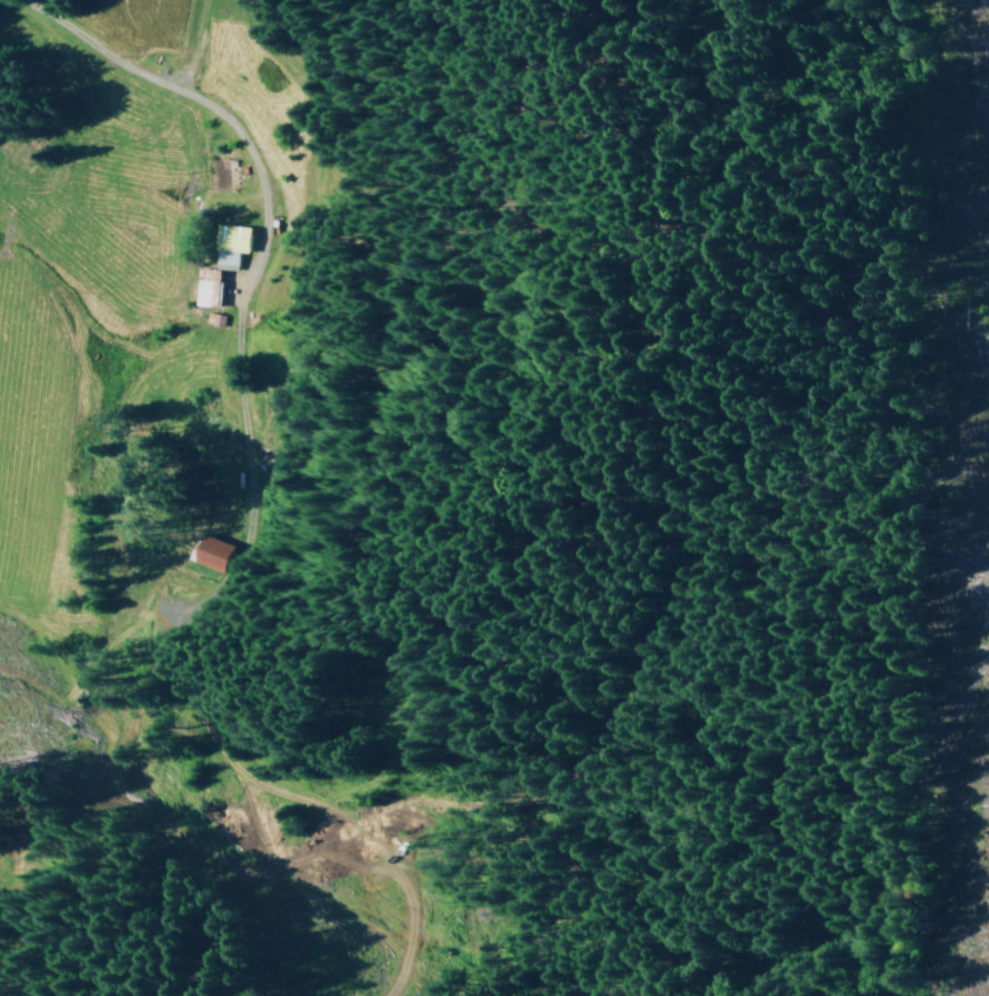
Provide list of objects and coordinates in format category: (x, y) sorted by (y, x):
building: (228, 243)
building: (205, 285)
road: (207, 521)

